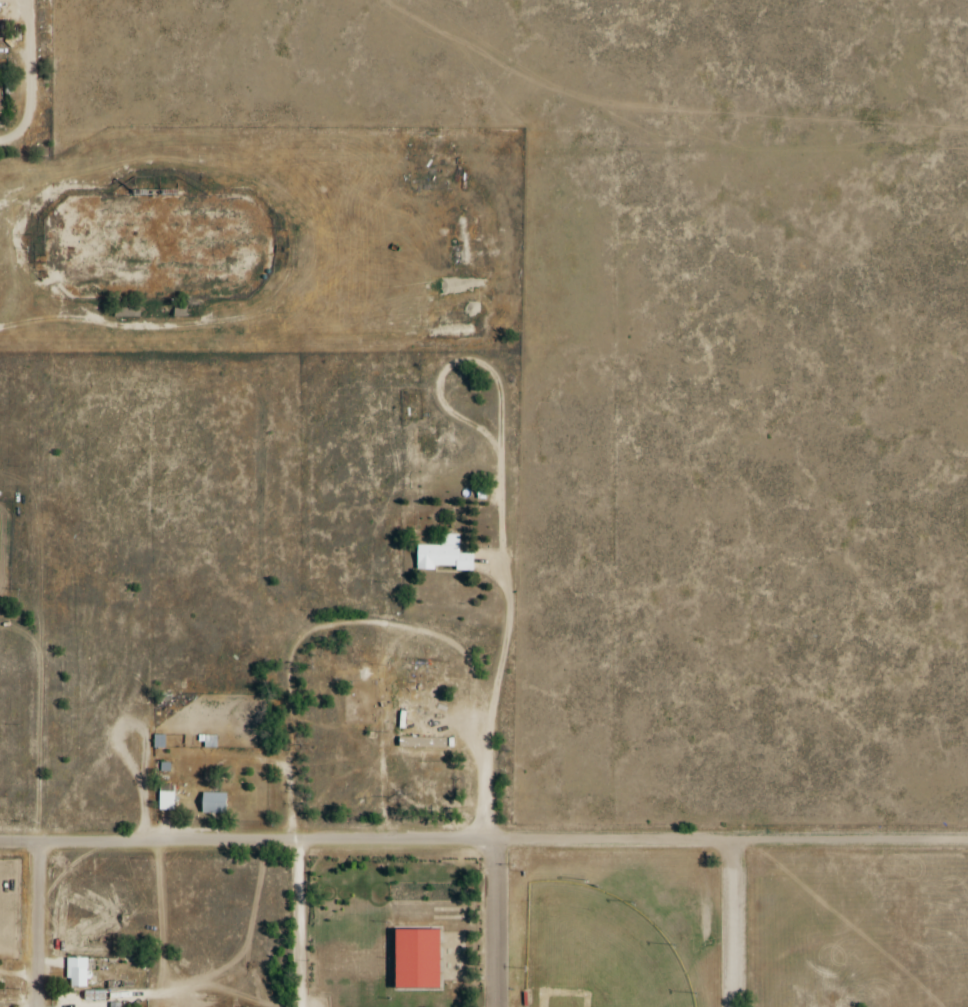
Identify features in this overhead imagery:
road: (31, 72)
building: (0, 97)
road: (14, 143)
road: (222, 164)
road: (497, 178)
park: (158, 246)
road: (16, 262)
road: (21, 294)
road: (125, 321)
building: (443, 556)
road: (493, 713)
building: (209, 741)
road: (287, 743)
building: (164, 800)
building: (212, 803)
road: (483, 840)
road: (617, 848)
road: (358, 869)
road: (520, 878)
road: (583, 880)
road: (662, 886)
road: (299, 923)
park: (397, 923)
road: (734, 924)
road: (36, 925)
road: (116, 925)
road: (509, 926)
road: (727, 928)
road: (398, 936)
park: (600, 950)
building: (421, 956)
building: (75, 973)
road: (468, 976)
road: (482, 977)
road: (468, 992)
parking lot: (315, 1000)

